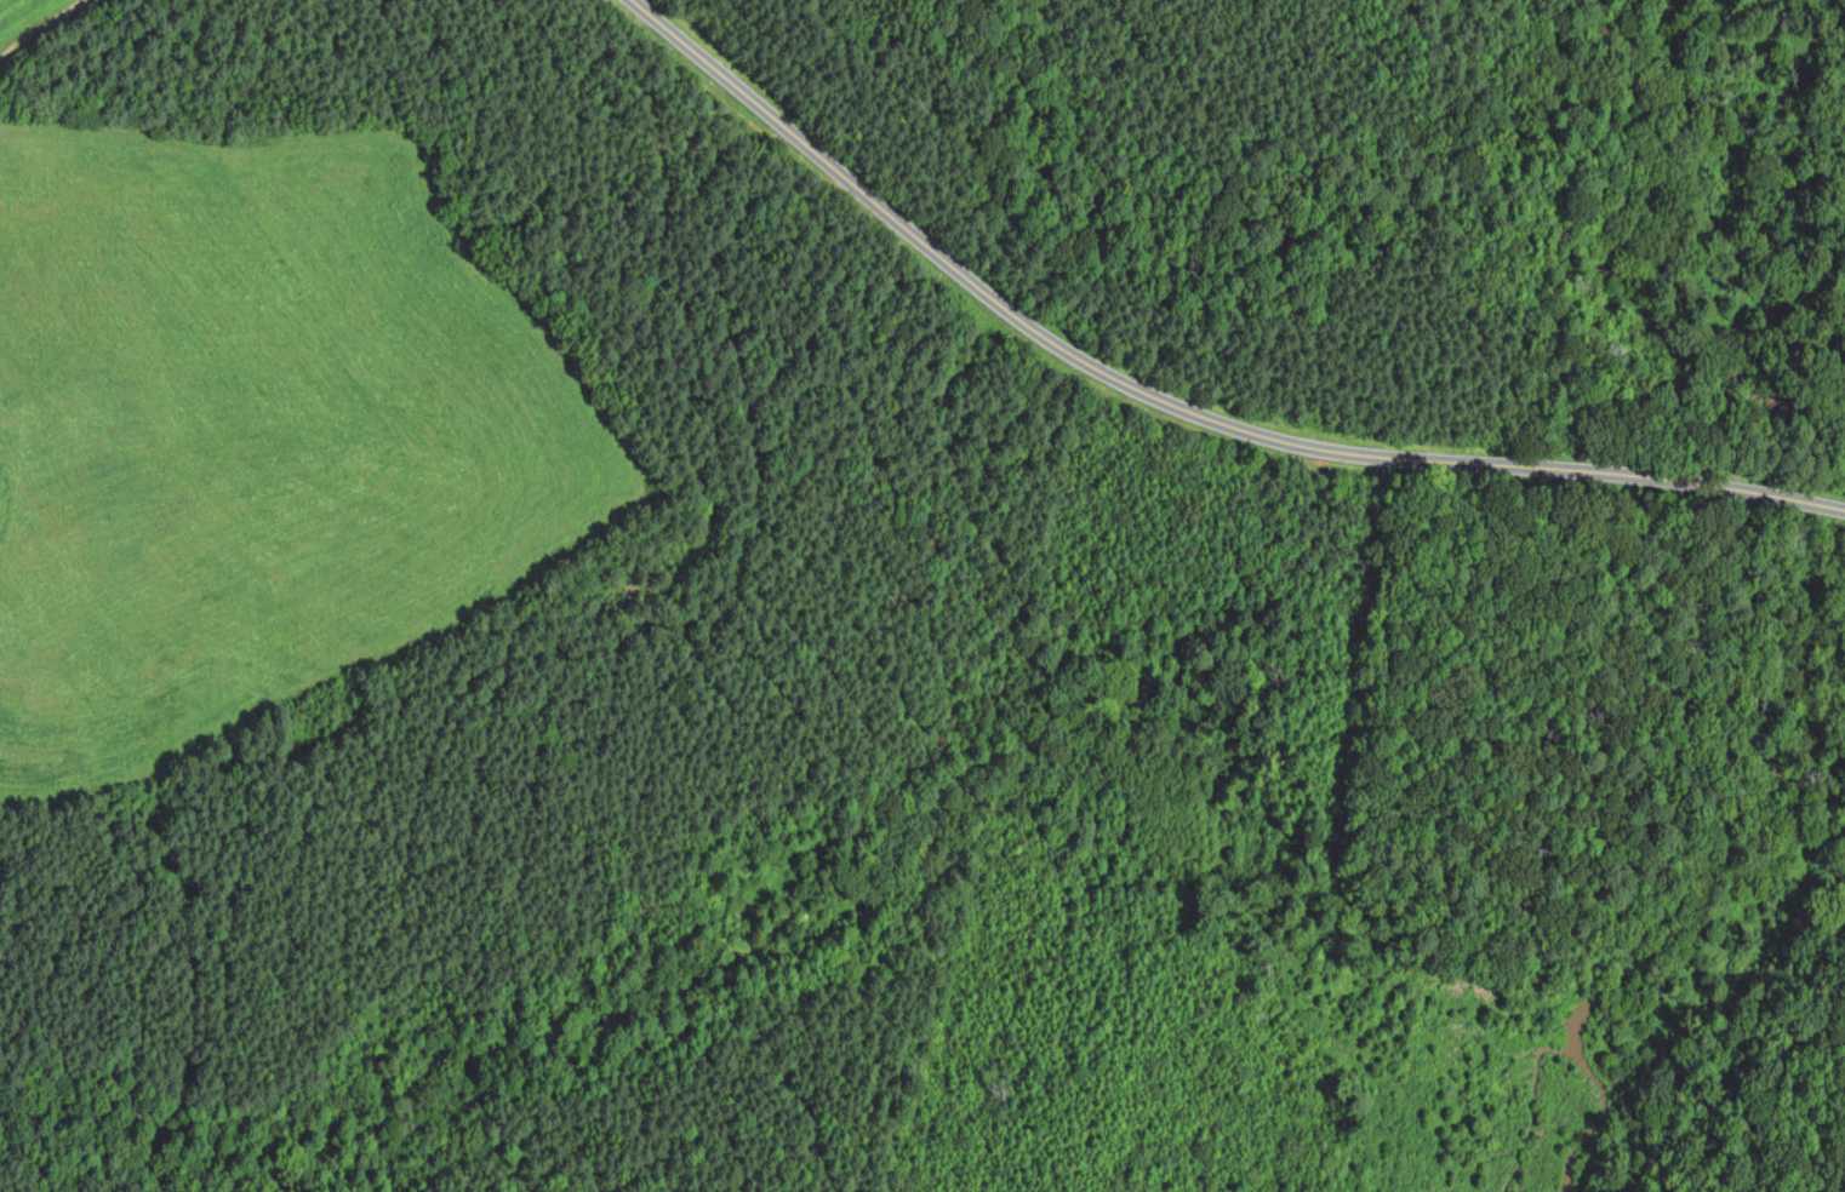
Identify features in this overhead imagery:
road: (47, 28)
road: (1175, 405)
road: (175, 511)

